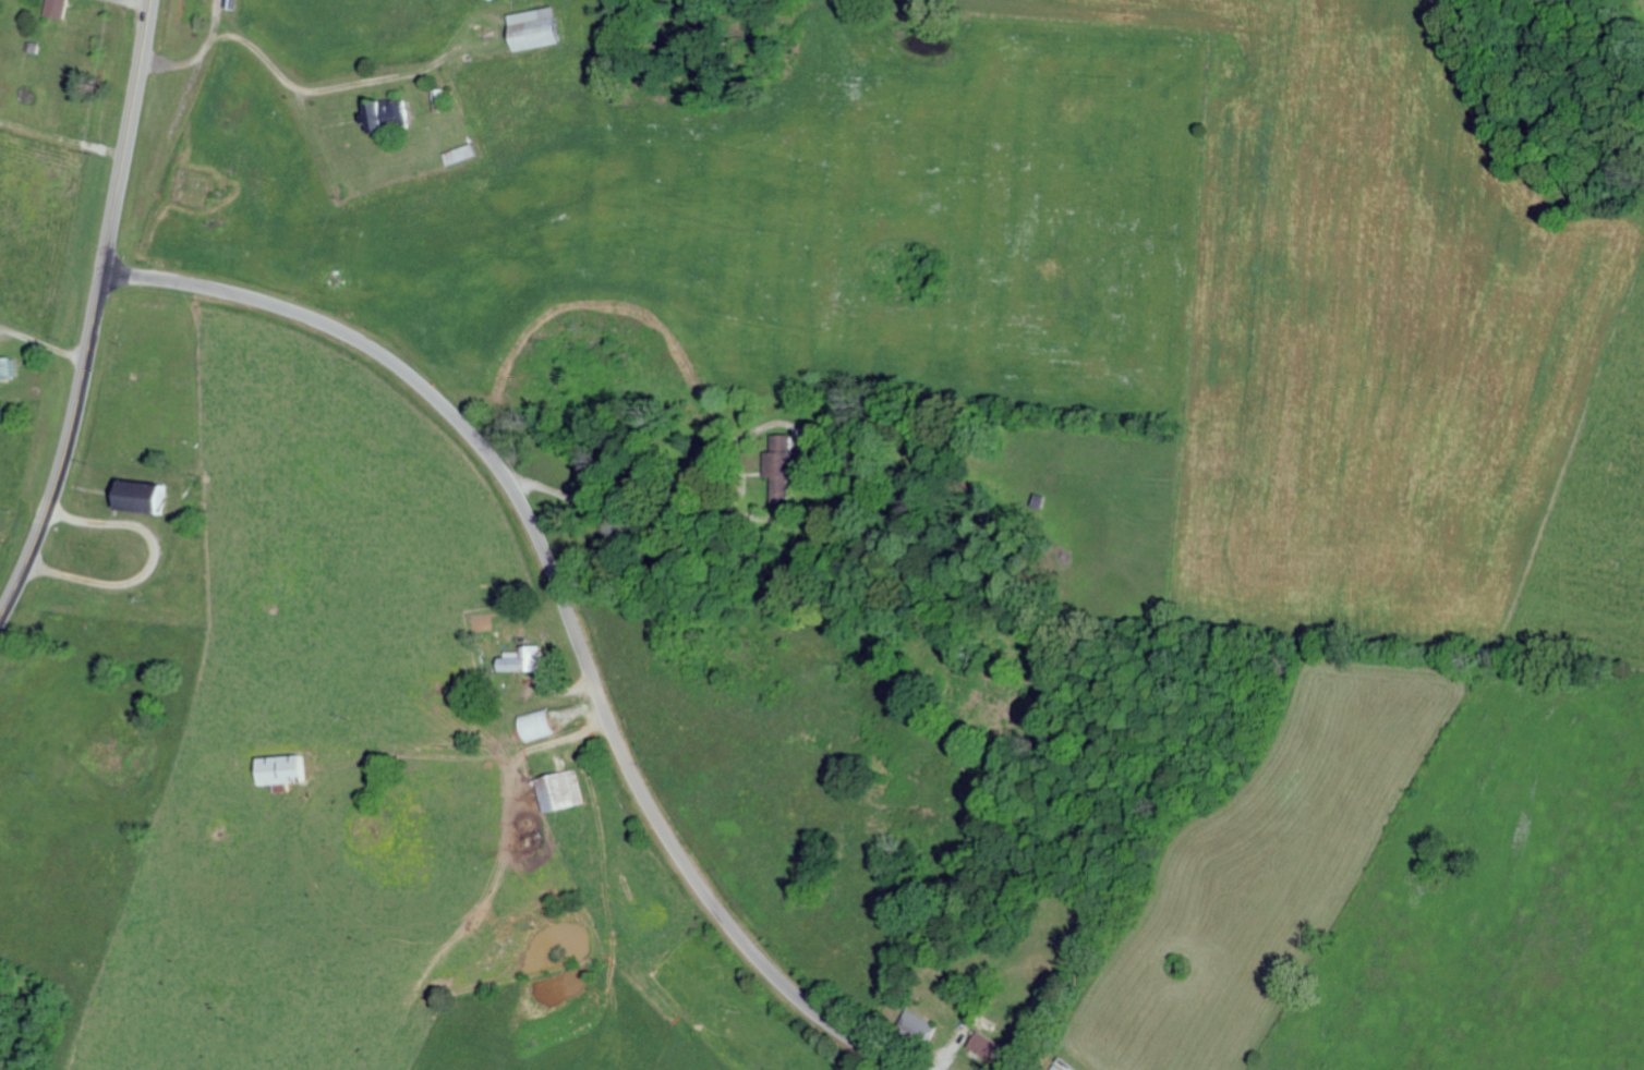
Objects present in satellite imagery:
building: (61, 8)
building: (531, 28)
building: (383, 112)
road: (61, 169)
road: (95, 312)
building: (8, 366)
building: (776, 462)
building: (137, 495)
road: (561, 597)
building: (520, 658)
road: (1035, 720)
building: (276, 768)
building: (558, 790)
building: (982, 1046)
building: (1053, 1068)

